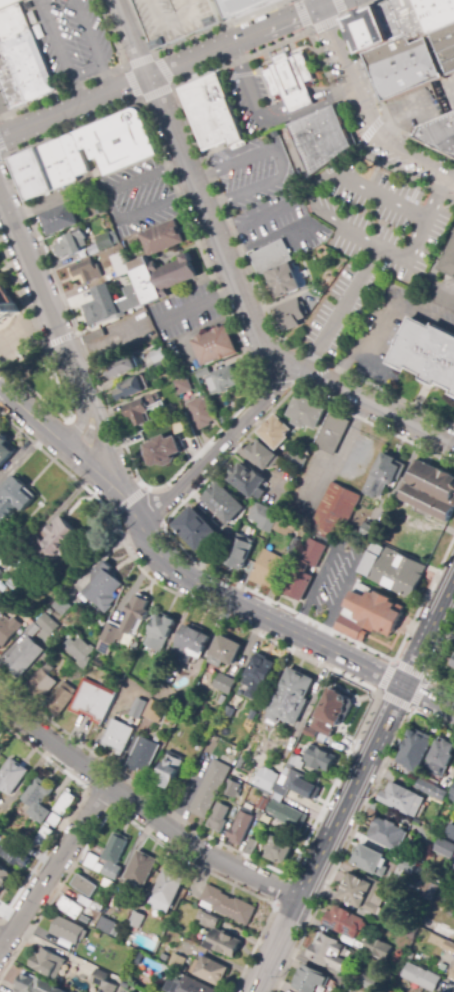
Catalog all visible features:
building: (9, 3)
road: (317, 3)
road: (326, 3)
building: (240, 6)
traffic signals: (319, 7)
building: (438, 15)
building: (409, 17)
building: (179, 21)
parking garage: (179, 21)
road: (225, 21)
building: (13, 22)
road: (318, 26)
building: (376, 29)
road: (86, 33)
road: (54, 39)
road: (191, 39)
parking lot: (75, 41)
building: (446, 49)
building: (406, 64)
road: (126, 69)
building: (23, 71)
road: (85, 72)
road: (159, 72)
road: (349, 75)
road: (95, 78)
building: (289, 78)
road: (105, 79)
road: (370, 86)
road: (75, 91)
parking lot: (248, 98)
building: (211, 114)
road: (189, 126)
road: (369, 129)
building: (440, 133)
building: (318, 138)
building: (117, 141)
road: (2, 153)
building: (74, 154)
road: (280, 159)
road: (417, 161)
building: (56, 163)
parking lot: (252, 170)
building: (30, 174)
road: (195, 185)
road: (312, 186)
road: (434, 197)
parking lot: (137, 198)
road: (109, 208)
parking lot: (382, 210)
building: (101, 213)
building: (58, 219)
building: (162, 238)
road: (415, 239)
building: (60, 240)
building: (106, 241)
building: (72, 244)
building: (271, 249)
building: (321, 252)
building: (449, 260)
building: (91, 261)
building: (120, 265)
building: (84, 271)
building: (286, 271)
building: (165, 279)
road: (43, 297)
building: (108, 297)
road: (196, 306)
building: (6, 307)
road: (340, 309)
building: (141, 315)
building: (293, 316)
building: (94, 337)
road: (58, 340)
building: (213, 345)
building: (429, 346)
road: (369, 349)
building: (158, 357)
building: (129, 360)
building: (162, 365)
road: (2, 368)
building: (203, 372)
road: (52, 374)
park: (37, 376)
road: (313, 376)
building: (134, 377)
building: (224, 380)
building: (183, 386)
road: (275, 386)
building: (131, 388)
road: (369, 403)
building: (146, 405)
building: (178, 405)
building: (306, 412)
building: (202, 413)
road: (32, 417)
road: (79, 426)
building: (167, 426)
building: (276, 432)
building: (333, 432)
road: (102, 439)
road: (216, 445)
building: (4, 451)
building: (162, 451)
building: (262, 455)
building: (297, 462)
road: (84, 463)
road: (134, 472)
building: (384, 476)
building: (249, 481)
building: (432, 491)
road: (123, 497)
building: (14, 498)
road: (129, 500)
building: (223, 503)
building: (335, 511)
building: (264, 517)
building: (285, 528)
building: (197, 530)
building: (228, 531)
building: (371, 532)
road: (173, 541)
building: (53, 544)
building: (239, 547)
building: (295, 547)
building: (267, 569)
building: (394, 569)
building: (304, 570)
building: (1, 572)
building: (15, 582)
road: (320, 582)
road: (347, 586)
building: (3, 587)
building: (103, 587)
building: (60, 604)
building: (369, 613)
building: (48, 625)
building: (124, 625)
road: (285, 626)
building: (8, 628)
building: (33, 630)
building: (160, 633)
building: (190, 644)
building: (54, 645)
building: (78, 651)
building: (224, 652)
building: (24, 657)
road: (392, 662)
building: (452, 662)
building: (99, 663)
road: (433, 664)
building: (134, 668)
building: (197, 669)
building: (155, 670)
building: (69, 671)
building: (259, 673)
building: (41, 682)
building: (224, 684)
building: (291, 697)
building: (61, 699)
building: (93, 701)
building: (237, 703)
building: (138, 709)
building: (154, 711)
building: (307, 712)
building: (332, 712)
building: (250, 713)
road: (363, 723)
building: (310, 733)
building: (117, 737)
building: (303, 739)
building: (272, 747)
building: (415, 751)
building: (143, 755)
building: (320, 758)
building: (441, 758)
building: (296, 762)
building: (169, 770)
building: (11, 777)
building: (265, 779)
road: (352, 785)
building: (301, 786)
building: (232, 789)
building: (273, 789)
building: (210, 790)
building: (432, 791)
building: (452, 795)
building: (38, 799)
building: (402, 799)
building: (261, 803)
building: (64, 804)
road: (142, 809)
building: (288, 815)
building: (218, 818)
building: (55, 820)
building: (241, 827)
building: (261, 829)
road: (353, 829)
building: (450, 831)
building: (387, 833)
building: (43, 838)
building: (445, 848)
building: (251, 850)
building: (278, 850)
building: (16, 855)
building: (114, 855)
building: (372, 861)
building: (93, 863)
road: (53, 865)
building: (452, 867)
building: (141, 869)
building: (4, 877)
building: (391, 881)
building: (108, 884)
building: (85, 886)
building: (432, 887)
building: (166, 891)
building: (363, 893)
building: (228, 905)
building: (71, 907)
building: (97, 907)
building: (116, 907)
building: (448, 910)
building: (137, 920)
building: (207, 920)
building: (346, 922)
building: (105, 925)
building: (67, 930)
building: (408, 931)
building: (443, 933)
building: (386, 935)
road: (2, 939)
building: (223, 944)
building: (442, 944)
building: (330, 952)
building: (377, 953)
building: (175, 960)
building: (44, 962)
building: (211, 971)
building: (421, 977)
building: (453, 977)
building: (310, 979)
building: (370, 981)
building: (103, 982)
building: (35, 985)
building: (190, 985)
building: (349, 985)

